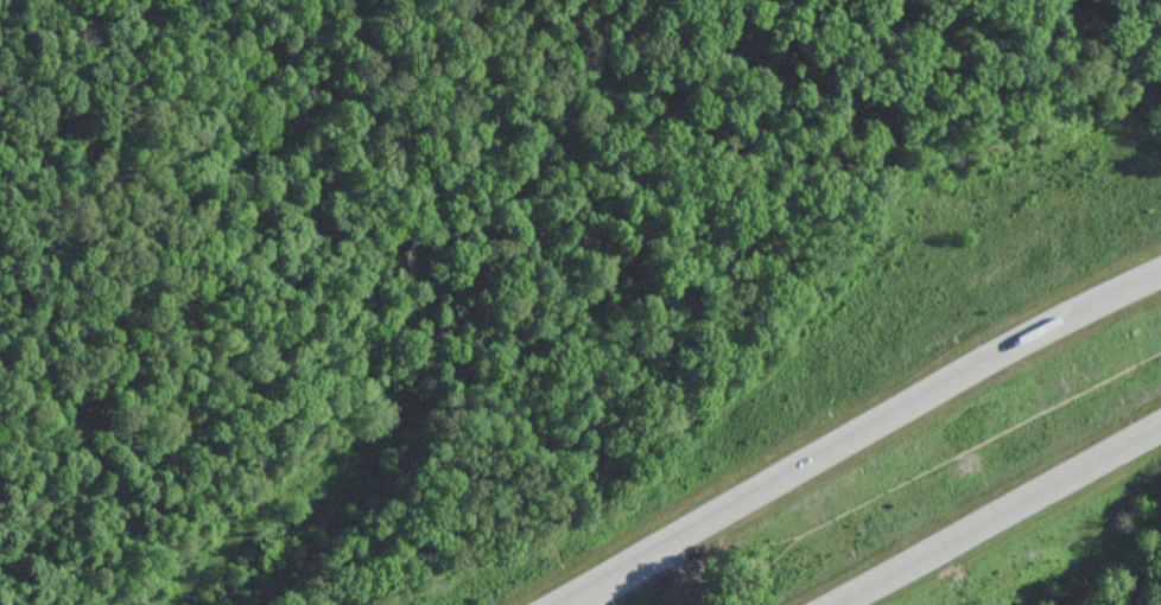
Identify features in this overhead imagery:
road: (867, 434)
road: (996, 514)

